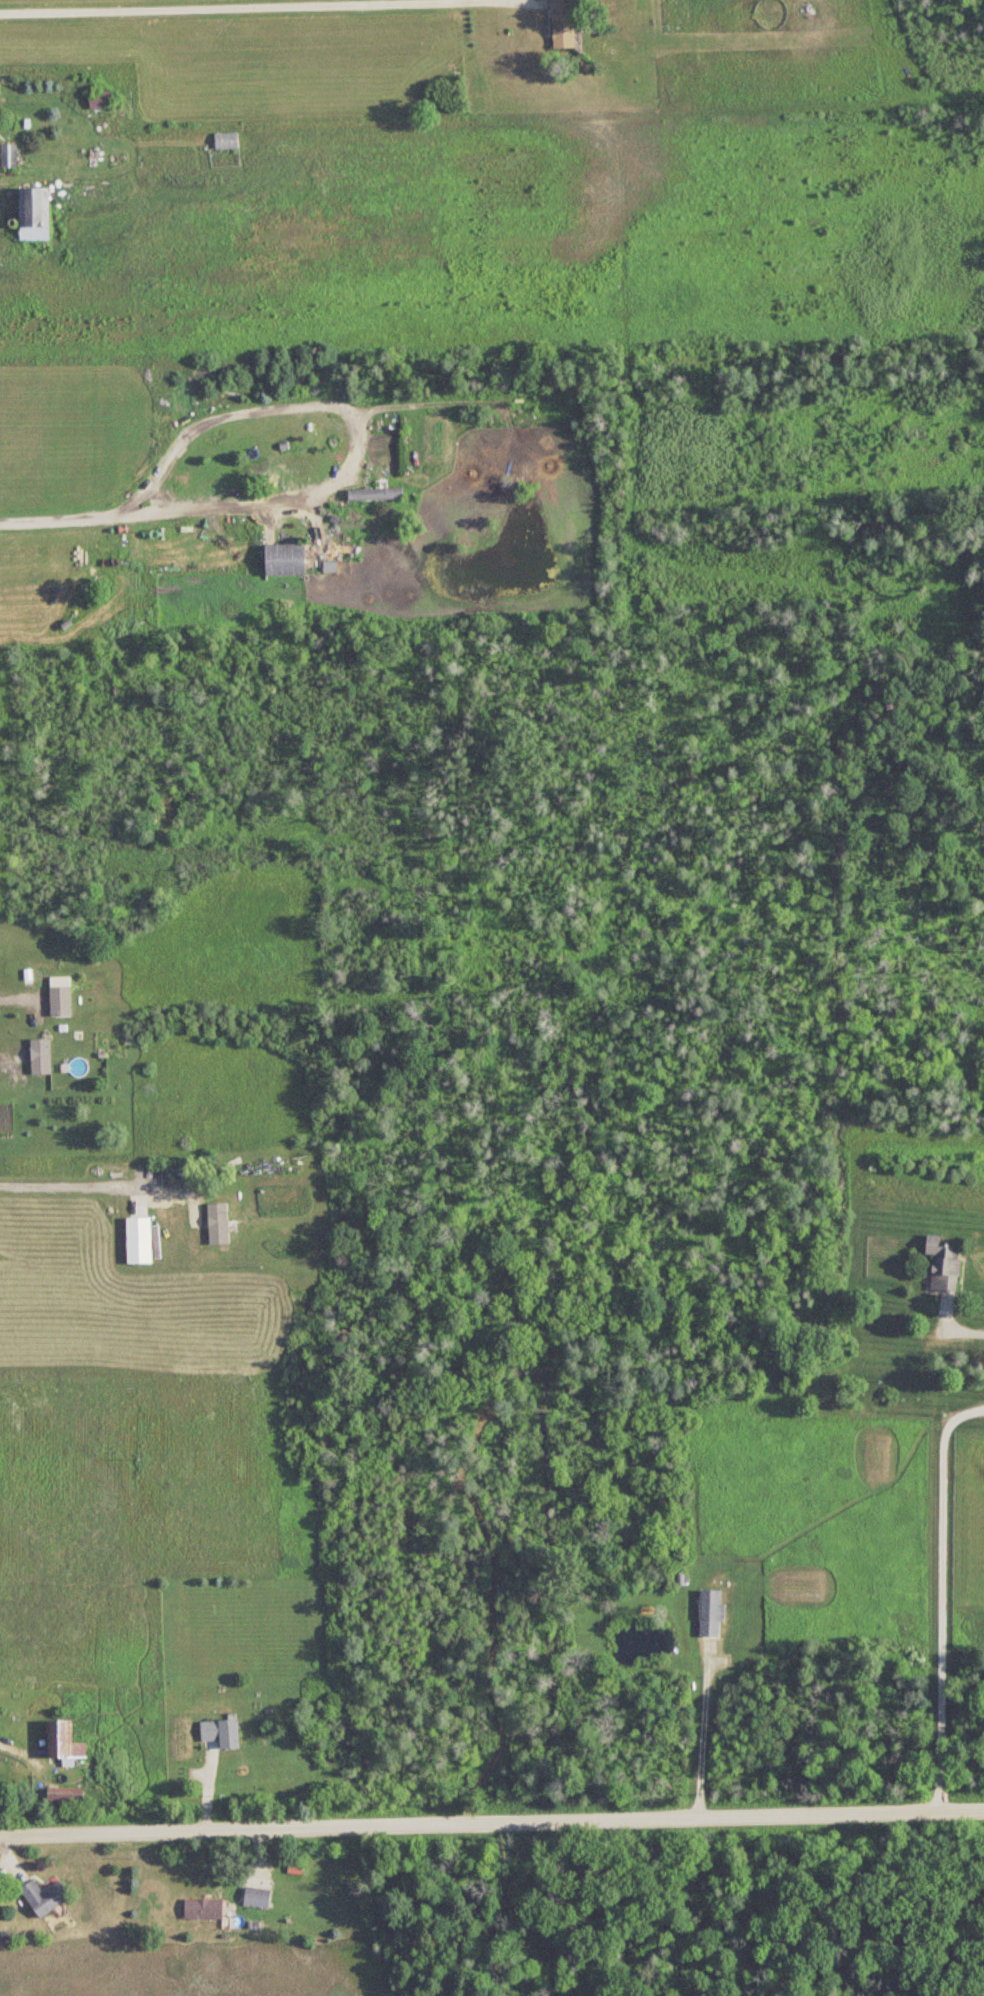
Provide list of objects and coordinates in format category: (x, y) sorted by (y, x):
road: (268, 6)
building: (563, 23)
building: (227, 141)
building: (10, 156)
building: (34, 214)
road: (357, 425)
building: (375, 493)
road: (59, 520)
building: (285, 559)
road: (15, 1001)
building: (61, 1002)
building: (41, 1057)
road: (70, 1189)
building: (219, 1224)
building: (139, 1241)
building: (944, 1265)
road: (965, 1325)
road: (942, 1598)
building: (711, 1613)
building: (222, 1732)
road: (704, 1734)
building: (63, 1742)
building: (66, 1797)
road: (491, 1824)
building: (45, 1897)
building: (257, 1897)
building: (203, 1909)

